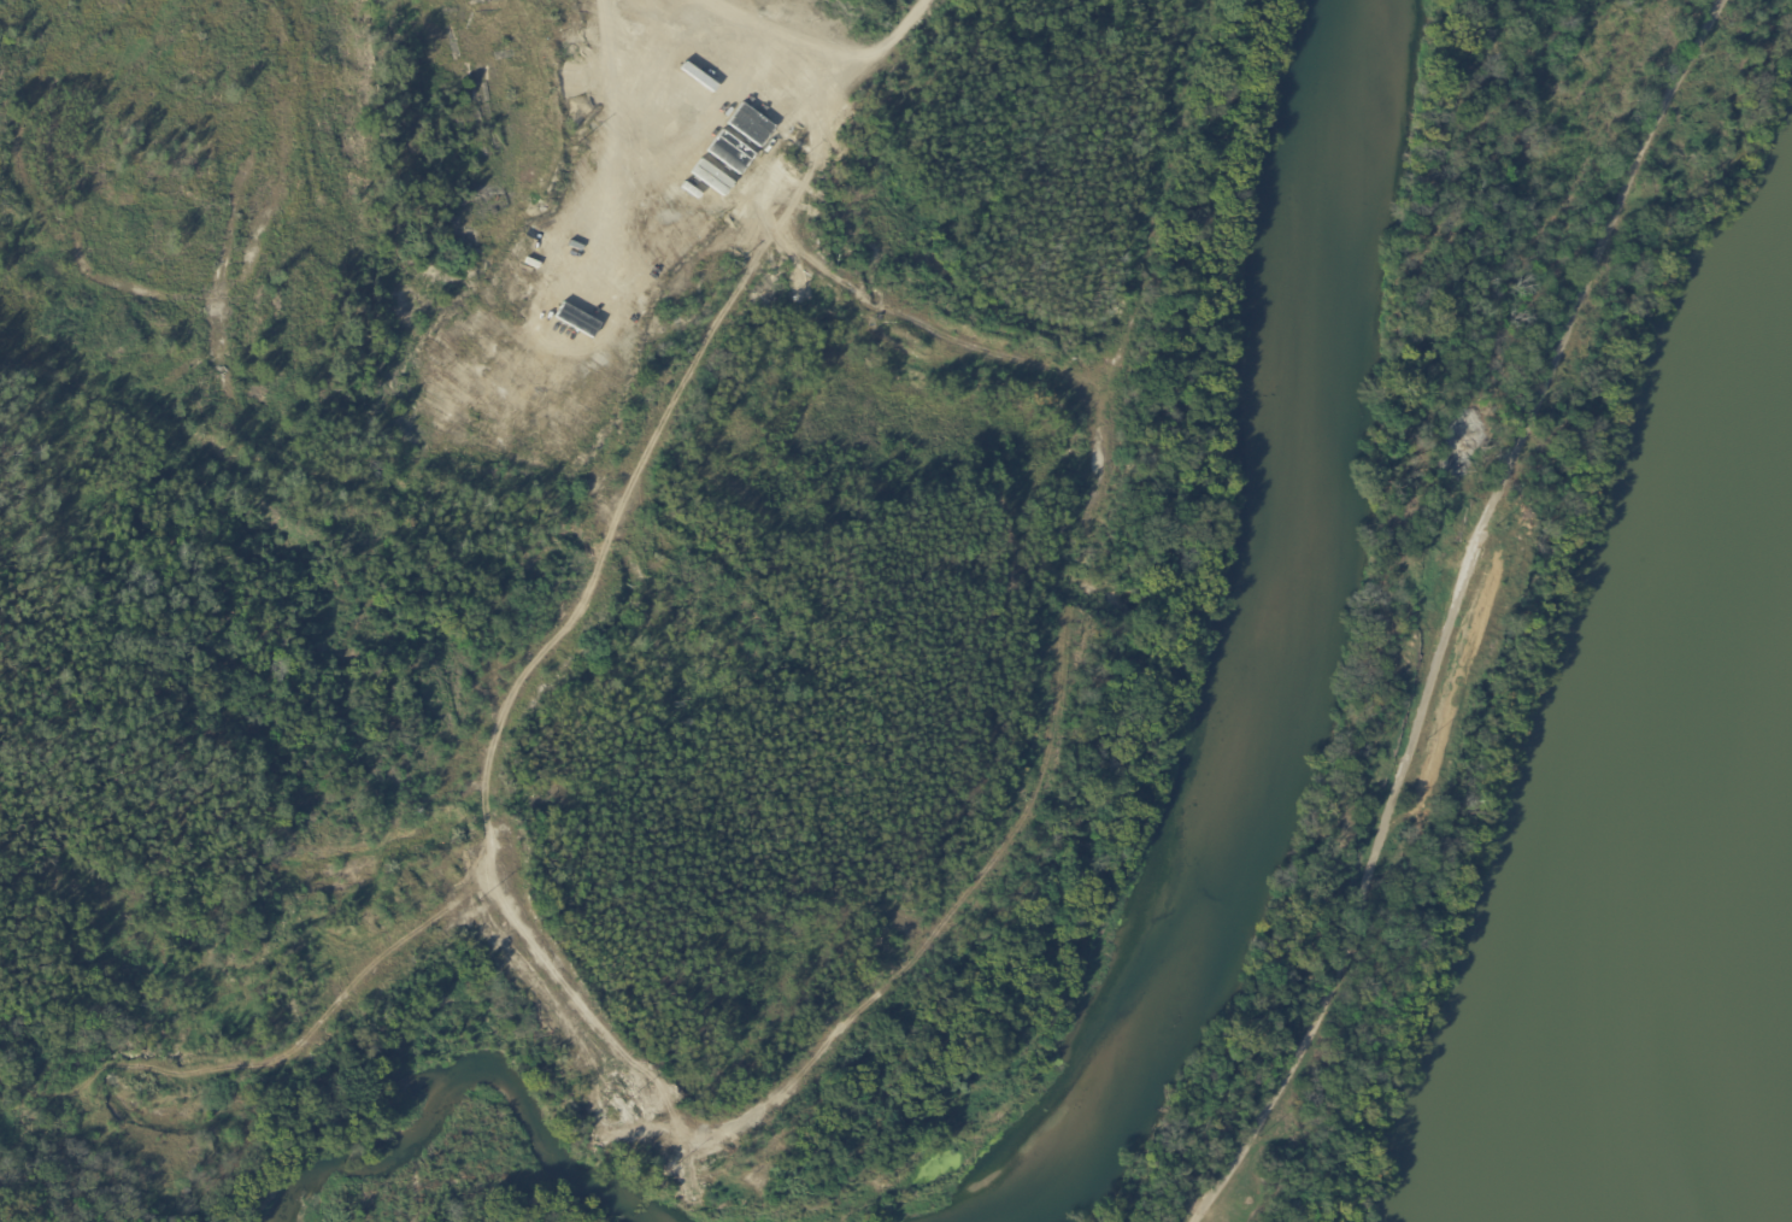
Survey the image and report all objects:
road: (615, 123)
road: (1455, 611)
river: (1287, 656)

